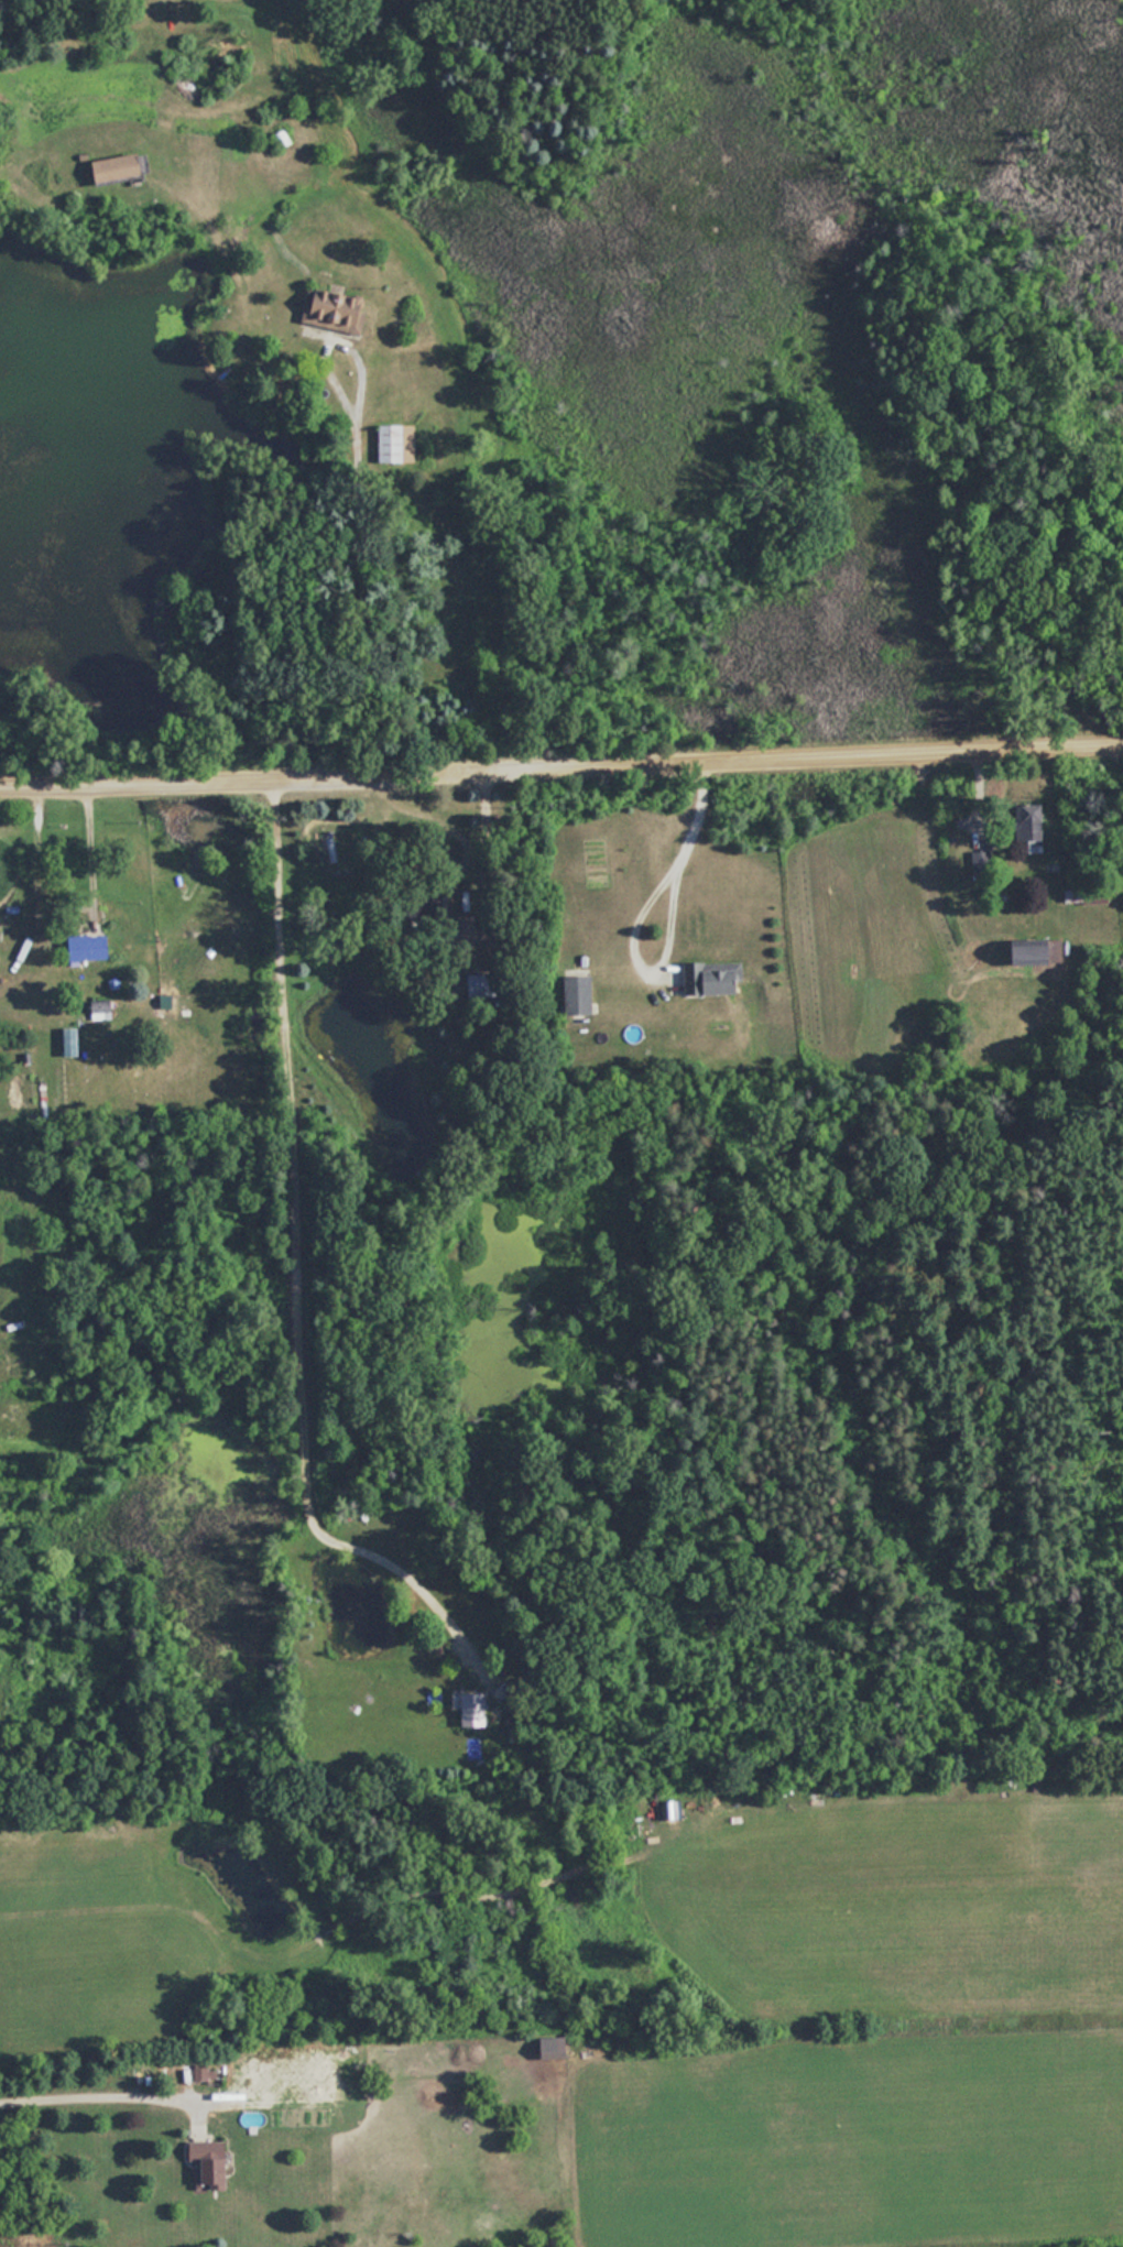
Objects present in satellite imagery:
building: (120, 167)
building: (337, 308)
building: (394, 443)
road: (561, 757)
building: (1033, 825)
road: (639, 910)
building: (91, 948)
building: (713, 978)
building: (580, 993)
road: (288, 1209)
building: (469, 1709)
road: (99, 2095)
building: (214, 2163)

